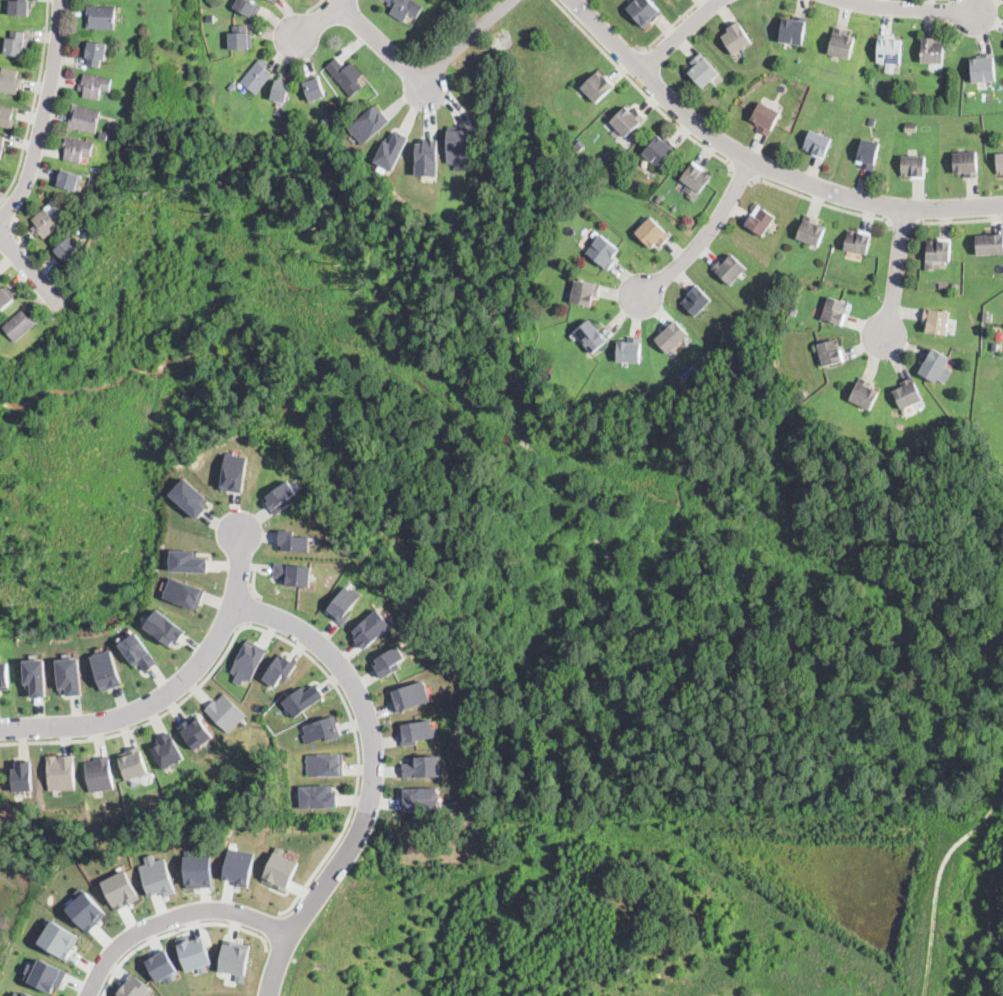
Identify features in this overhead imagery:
building: (274, 1)
road: (314, 6)
building: (21, 8)
building: (248, 8)
building: (405, 8)
road: (908, 10)
building: (643, 11)
building: (101, 17)
road: (323, 20)
road: (669, 28)
building: (792, 30)
road: (609, 35)
road: (681, 35)
building: (736, 38)
building: (241, 39)
road: (467, 39)
road: (380, 42)
building: (841, 43)
building: (16, 44)
building: (889, 49)
building: (932, 51)
building: (96, 54)
road: (632, 59)
building: (983, 68)
building: (702, 70)
building: (346, 76)
building: (257, 77)
building: (10, 82)
building: (94, 86)
building: (595, 87)
building: (318, 89)
building: (283, 91)
road: (642, 91)
building: (830, 98)
road: (34, 104)
road: (44, 116)
building: (6, 117)
building: (765, 118)
building: (84, 119)
building: (324, 119)
building: (627, 119)
building: (368, 124)
building: (911, 126)
building: (104, 137)
building: (818, 144)
building: (579, 145)
building: (458, 146)
building: (2, 147)
building: (391, 148)
building: (77, 149)
building: (660, 150)
building: (119, 153)
building: (867, 154)
building: (426, 156)
building: (965, 163)
building: (1000, 163)
building: (913, 166)
road: (744, 175)
building: (68, 180)
building: (94, 180)
building: (694, 180)
road: (806, 184)
building: (660, 200)
road: (822, 203)
road: (8, 211)
building: (80, 211)
building: (759, 220)
road: (959, 222)
building: (47, 223)
road: (902, 224)
building: (87, 229)
building: (810, 231)
building: (652, 233)
road: (706, 235)
building: (857, 241)
building: (989, 244)
building: (66, 249)
road: (31, 251)
building: (603, 252)
building: (937, 253)
road: (32, 269)
building: (729, 269)
road: (898, 275)
building: (954, 286)
building: (585, 292)
building: (6, 298)
building: (696, 300)
building: (793, 311)
building: (835, 311)
building: (936, 321)
building: (19, 325)
building: (590, 336)
building: (671, 337)
building: (630, 348)
building: (830, 352)
building: (703, 361)
building: (934, 365)
building: (648, 394)
building: (864, 394)
building: (907, 394)
building: (803, 395)
building: (941, 424)
building: (234, 471)
building: (281, 495)
building: (191, 497)
building: (292, 540)
building: (188, 561)
building: (293, 572)
road: (252, 583)
building: (184, 592)
building: (343, 603)
road: (252, 610)
building: (164, 627)
building: (371, 627)
road: (281, 637)
building: (138, 651)
building: (389, 660)
building: (247, 662)
building: (107, 669)
building: (279, 670)
building: (4, 674)
building: (70, 675)
building: (35, 676)
road: (172, 688)
building: (411, 695)
building: (303, 698)
building: (226, 711)
building: (320, 729)
building: (195, 730)
building: (419, 730)
building: (166, 749)
building: (134, 761)
building: (325, 763)
building: (423, 765)
building: (61, 771)
building: (99, 773)
building: (23, 774)
road: (375, 777)
building: (319, 795)
building: (420, 798)
building: (239, 866)
building: (197, 869)
building: (280, 869)
building: (157, 875)
building: (120, 888)
building: (85, 910)
road: (175, 918)
road: (272, 927)
road: (175, 929)
building: (59, 939)
building: (193, 952)
building: (234, 958)
building: (161, 965)
building: (44, 974)
building: (133, 987)
building: (23, 994)

